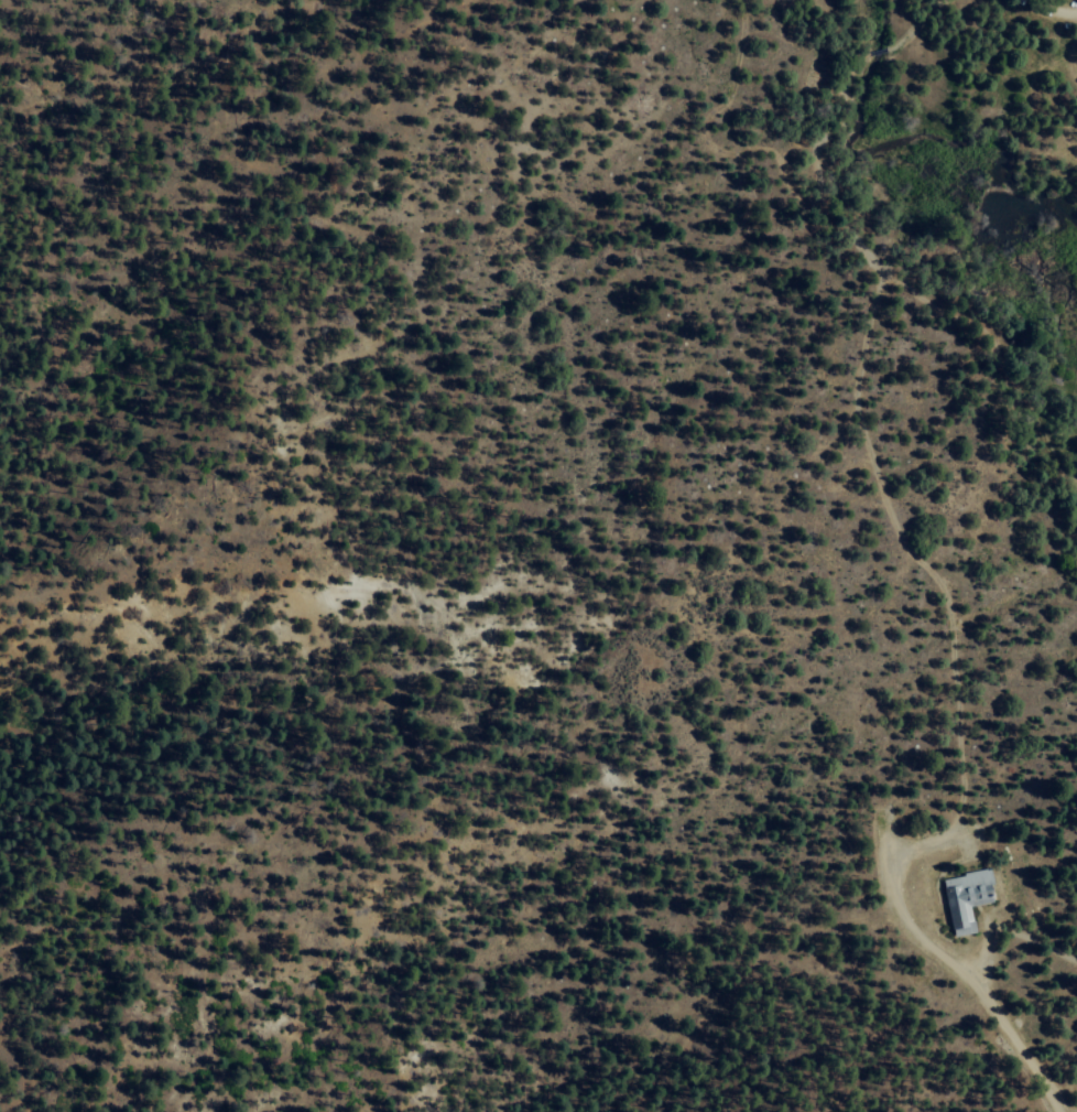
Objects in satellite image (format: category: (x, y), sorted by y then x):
road: (1048, 13)
road: (917, 29)
road: (875, 56)
road: (860, 60)
road: (999, 357)
road: (870, 449)
building: (962, 898)
road: (944, 958)

